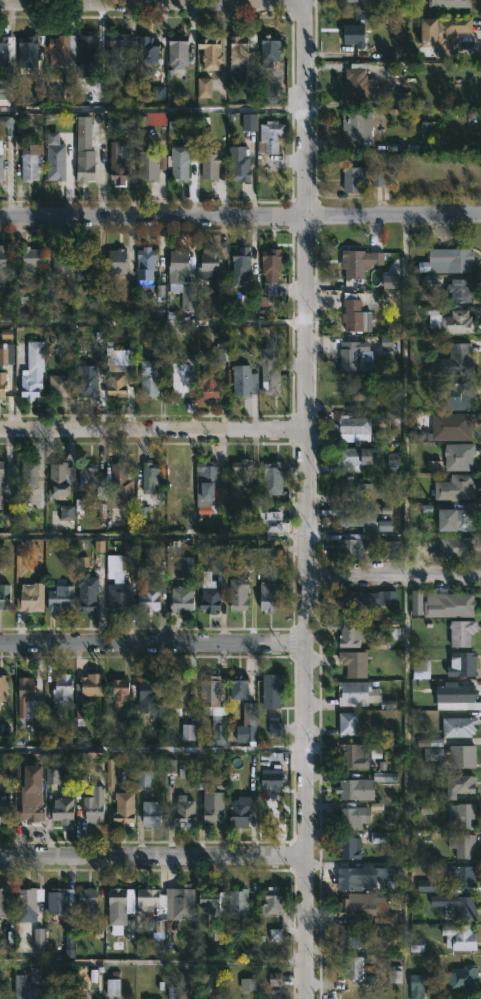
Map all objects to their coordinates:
building: (360, 1)
road: (151, 3)
building: (450, 3)
building: (355, 35)
building: (443, 36)
building: (149, 49)
building: (87, 50)
building: (270, 50)
building: (4, 51)
building: (63, 51)
building: (177, 51)
building: (28, 52)
building: (121, 52)
building: (211, 52)
building: (239, 54)
building: (358, 82)
building: (69, 84)
building: (204, 87)
building: (6, 91)
building: (158, 93)
building: (267, 96)
road: (153, 108)
building: (155, 118)
building: (249, 122)
building: (7, 125)
building: (352, 126)
building: (83, 131)
building: (271, 139)
building: (1, 161)
building: (56, 161)
building: (182, 161)
building: (210, 163)
building: (119, 164)
building: (240, 164)
building: (85, 166)
building: (148, 166)
building: (31, 167)
building: (367, 177)
road: (240, 215)
building: (31, 257)
building: (454, 258)
building: (5, 261)
building: (61, 261)
building: (119, 262)
building: (360, 262)
building: (145, 264)
building: (209, 264)
building: (86, 266)
building: (241, 266)
building: (270, 275)
building: (181, 279)
building: (390, 281)
building: (462, 288)
building: (50, 303)
building: (353, 312)
building: (452, 320)
road: (153, 323)
building: (6, 354)
building: (355, 356)
building: (455, 359)
building: (118, 370)
building: (150, 378)
building: (89, 381)
building: (245, 381)
building: (3, 384)
building: (31, 384)
building: (271, 384)
building: (210, 385)
building: (59, 386)
building: (358, 392)
building: (454, 394)
building: (454, 426)
building: (354, 428)
road: (153, 429)
building: (460, 457)
building: (354, 458)
building: (433, 465)
building: (244, 470)
building: (30, 474)
building: (179, 474)
building: (1, 476)
building: (150, 476)
building: (62, 477)
building: (90, 478)
building: (273, 478)
building: (121, 479)
building: (212, 484)
building: (456, 487)
building: (352, 488)
road: (306, 499)
building: (66, 512)
building: (364, 518)
building: (463, 519)
building: (272, 522)
road: (153, 537)
building: (457, 545)
building: (351, 549)
building: (392, 549)
building: (250, 565)
building: (186, 566)
road: (393, 574)
building: (119, 581)
building: (214, 582)
building: (87, 591)
building: (239, 593)
building: (31, 595)
building: (271, 595)
building: (4, 596)
building: (60, 597)
building: (149, 598)
building: (367, 598)
building: (182, 599)
building: (447, 603)
road: (406, 606)
building: (462, 632)
building: (348, 634)
road: (153, 646)
building: (355, 663)
building: (466, 663)
building: (239, 686)
building: (3, 687)
building: (63, 689)
building: (121, 691)
building: (272, 691)
building: (87, 692)
building: (180, 692)
building: (355, 692)
building: (26, 694)
building: (148, 694)
building: (458, 696)
building: (214, 706)
building: (348, 723)
building: (248, 724)
building: (460, 726)
building: (275, 728)
building: (187, 732)
road: (153, 749)
building: (354, 755)
building: (453, 755)
building: (170, 765)
building: (274, 775)
building: (51, 776)
building: (384, 776)
building: (143, 778)
building: (201, 780)
building: (463, 784)
building: (349, 788)
building: (94, 802)
building: (35, 807)
building: (125, 809)
building: (63, 810)
building: (184, 810)
building: (241, 810)
building: (4, 811)
building: (149, 814)
building: (213, 814)
building: (463, 814)
building: (350, 819)
building: (378, 837)
building: (463, 845)
building: (350, 847)
road: (152, 854)
building: (389, 875)
building: (460, 876)
building: (429, 886)
building: (88, 899)
building: (3, 901)
building: (168, 901)
building: (28, 902)
building: (214, 903)
building: (238, 903)
building: (274, 903)
building: (458, 905)
building: (62, 907)
building: (121, 907)
building: (367, 907)
building: (275, 934)
building: (460, 937)
building: (351, 938)
building: (38, 940)
building: (416, 945)
road: (151, 963)
building: (353, 968)
building: (394, 974)
building: (462, 977)
building: (35, 978)
building: (274, 979)
building: (247, 984)
building: (417, 986)
building: (112, 987)
building: (20, 990)
building: (0, 995)

